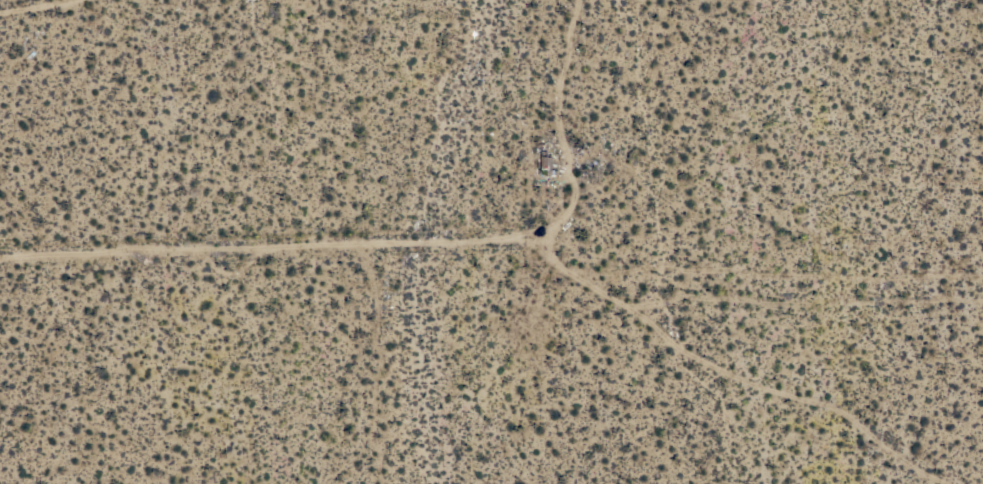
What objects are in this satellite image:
road: (28, 3)
road: (512, 234)

